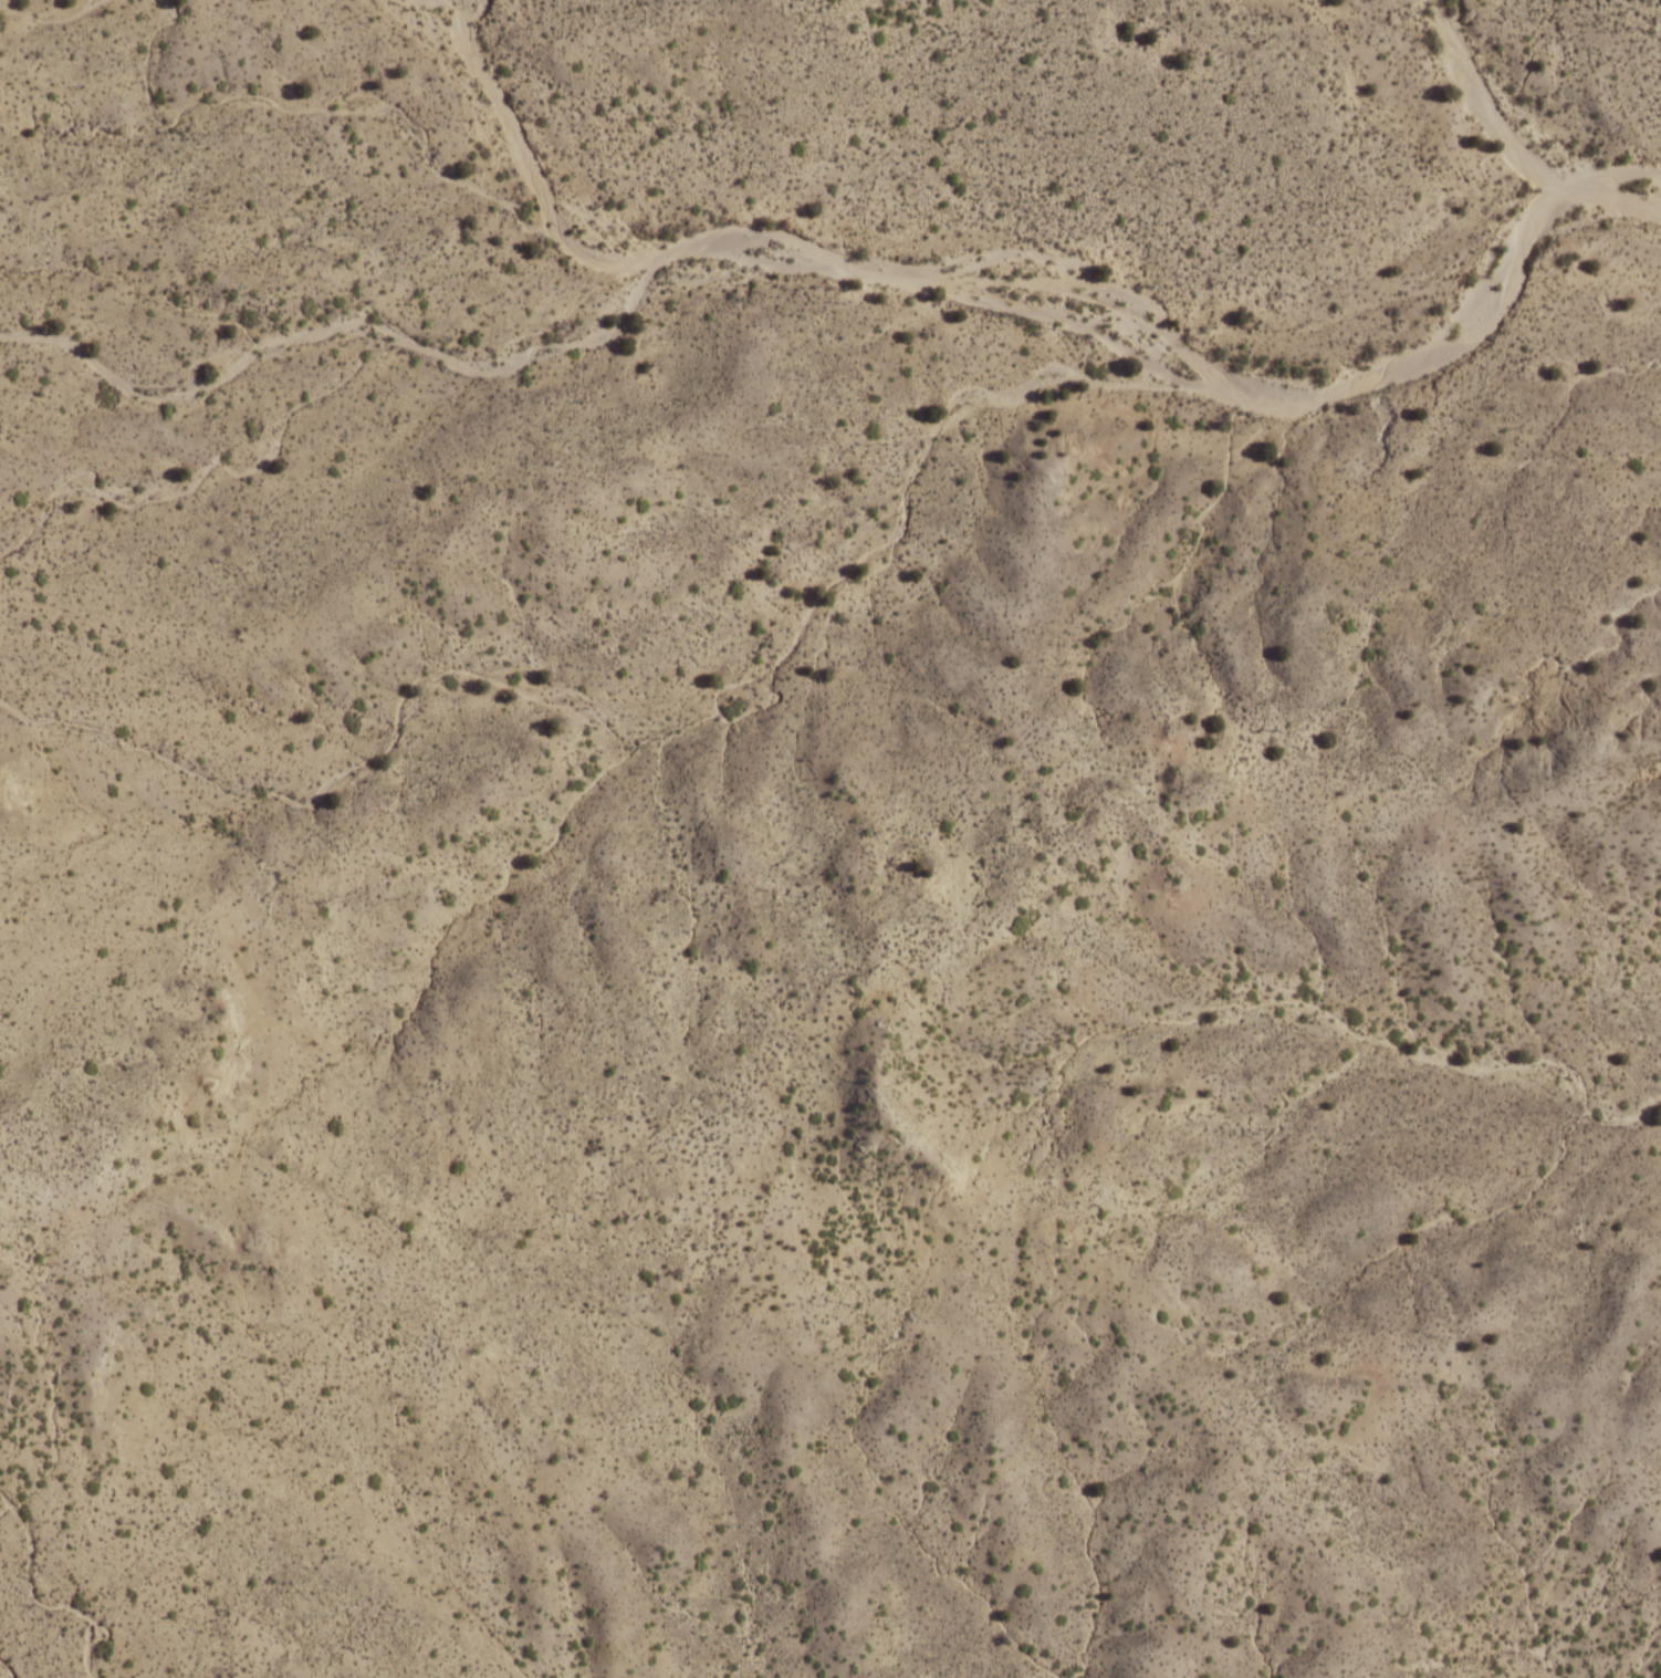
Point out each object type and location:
river: (1490, 114)
river: (1066, 283)
river: (1024, 309)

